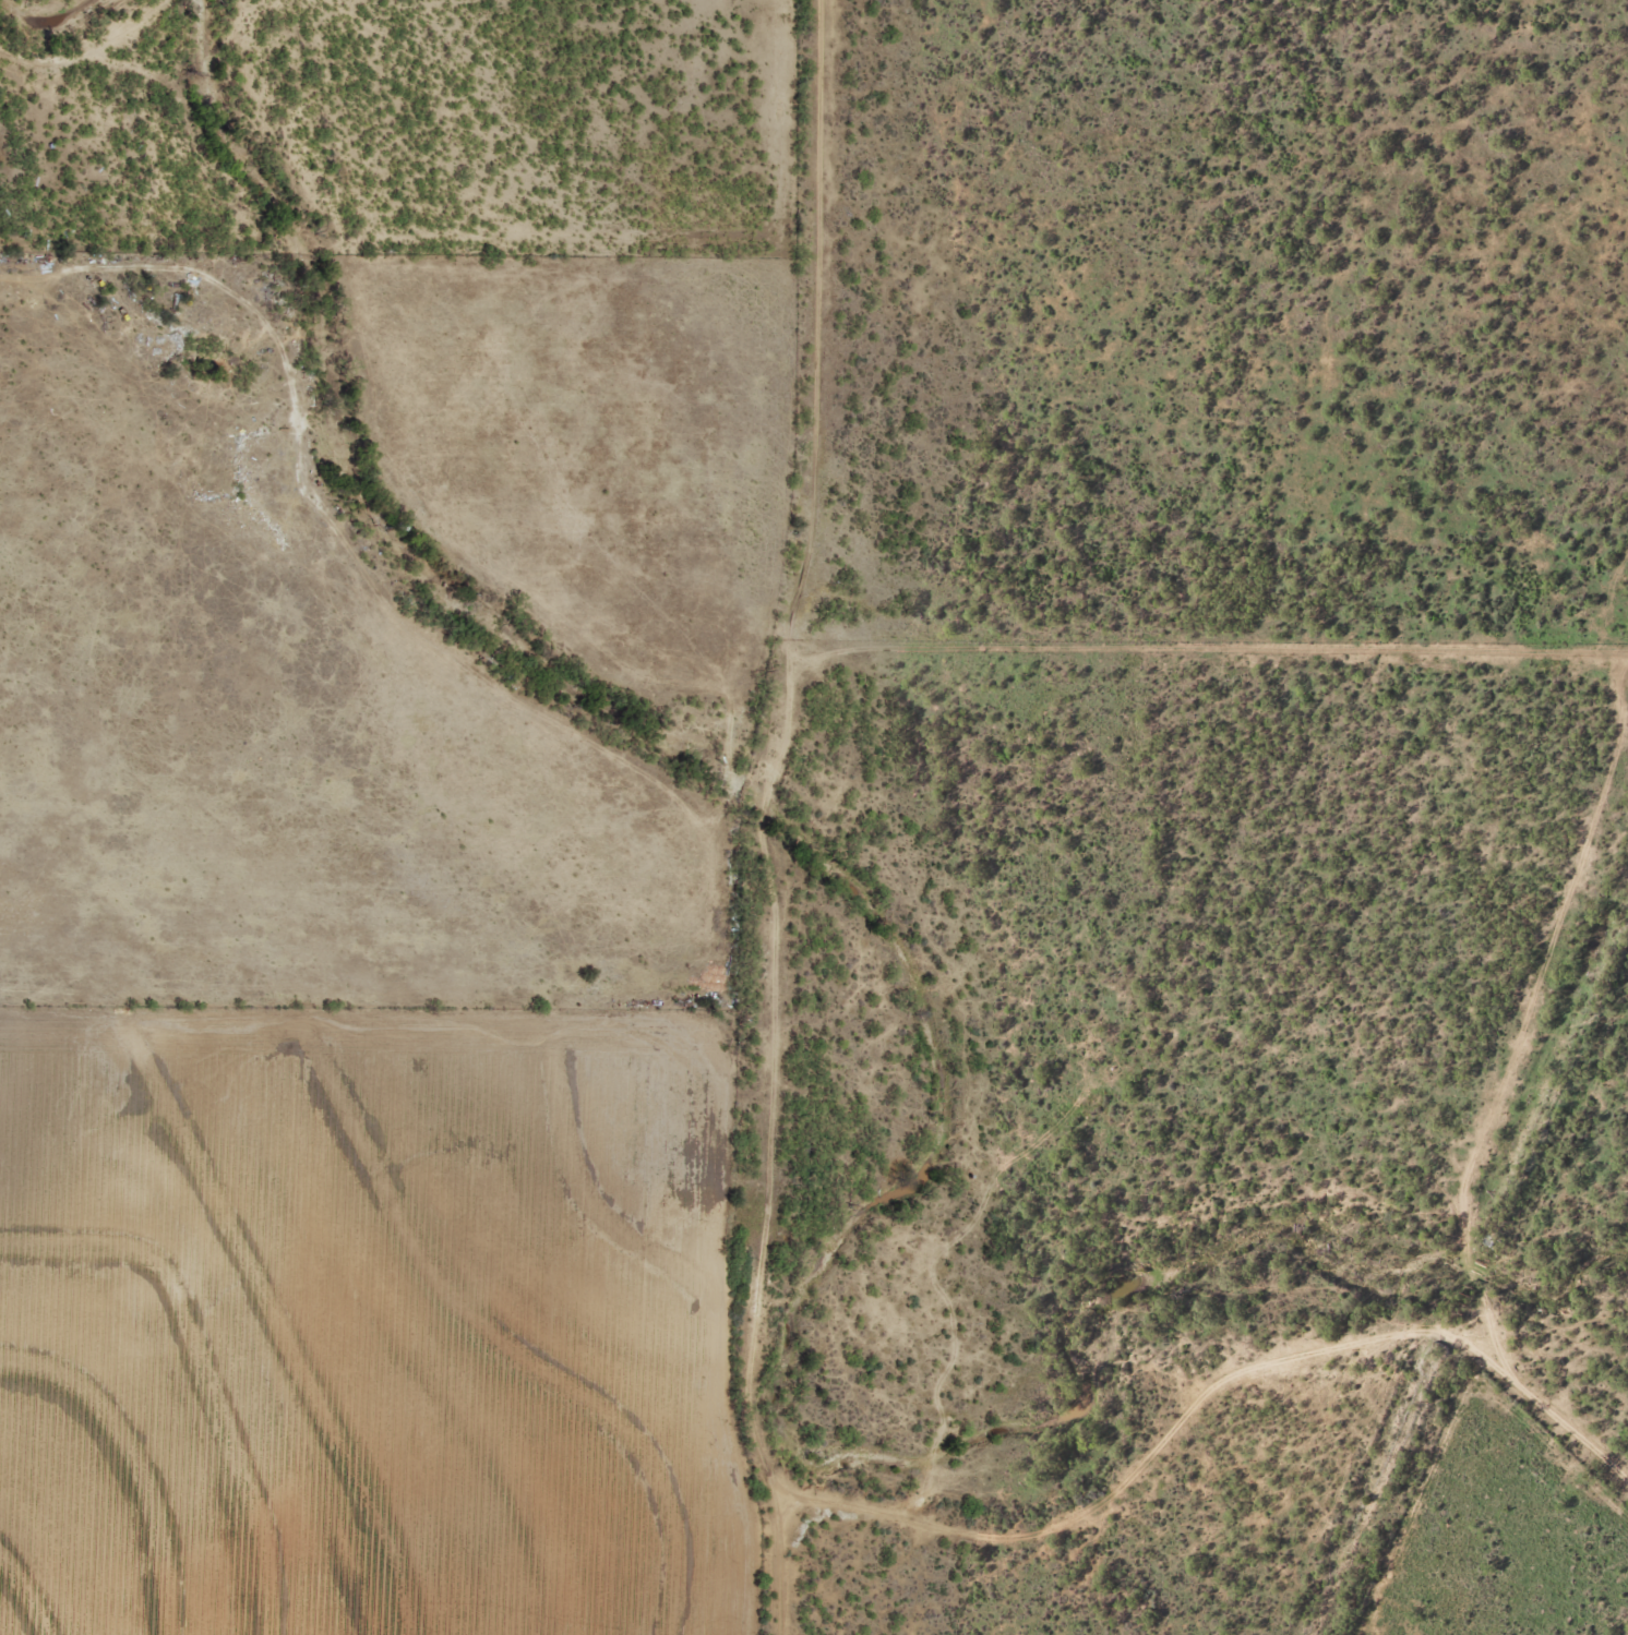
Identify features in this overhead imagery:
road: (765, 818)

